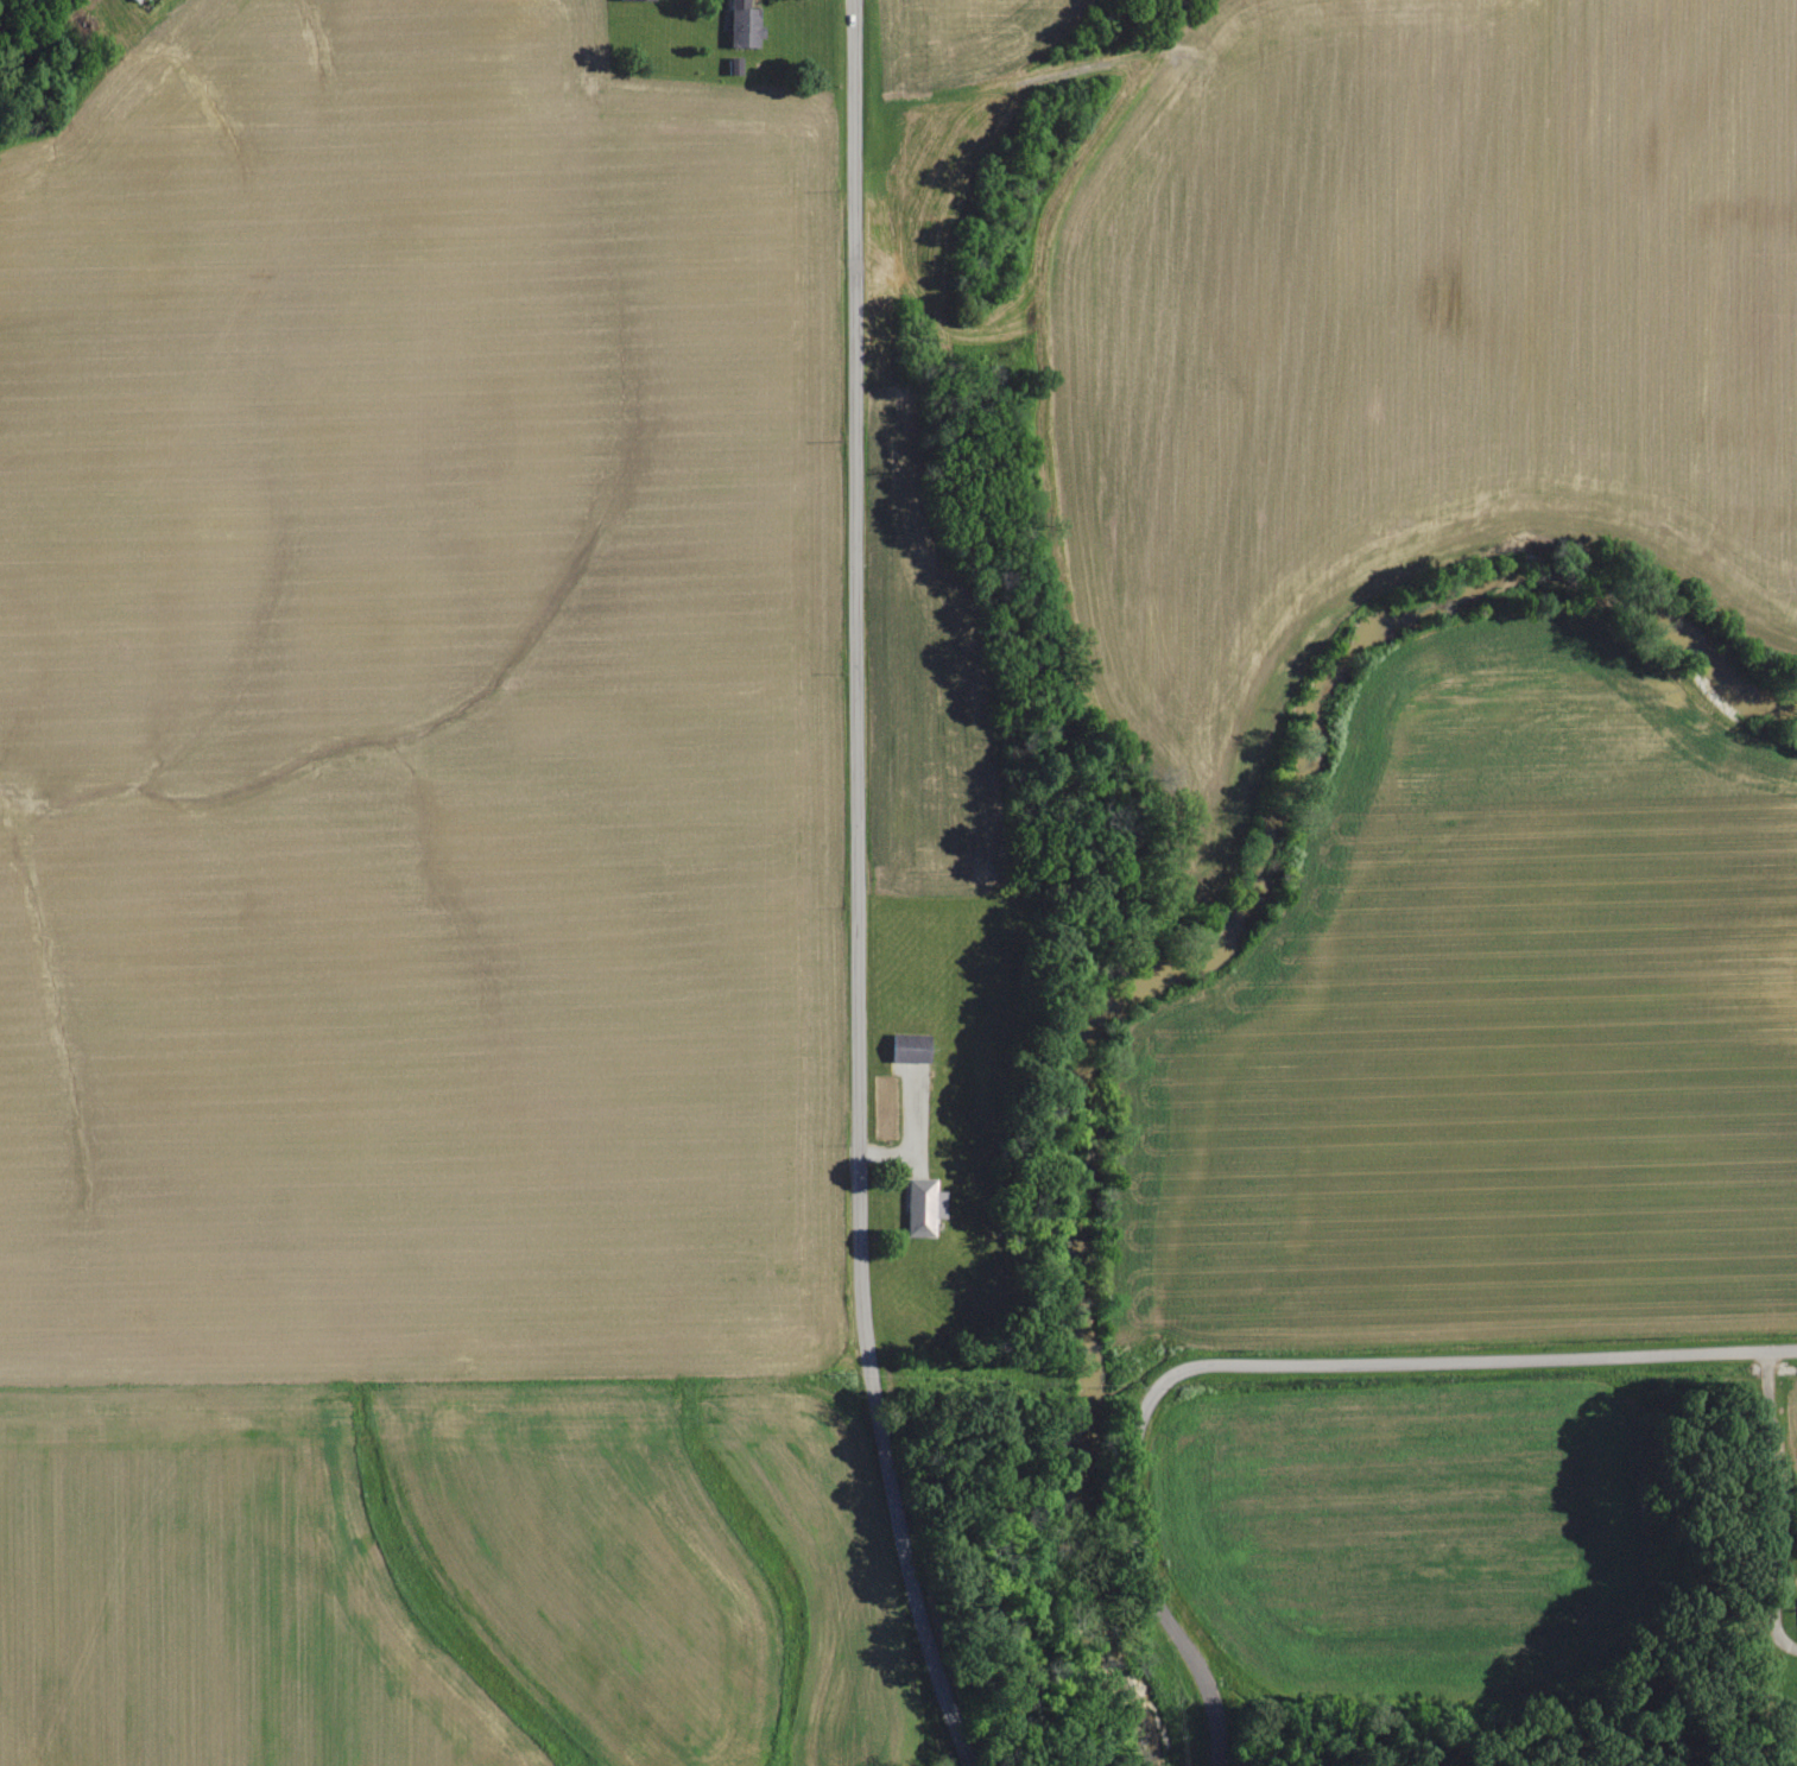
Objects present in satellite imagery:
building: (633, 0)
building: (740, 25)
road: (855, 890)
crop: (1489, 1034)
building: (907, 1049)
building: (920, 1208)
road: (1267, 1363)
road: (1771, 1505)
crop: (1409, 1536)

